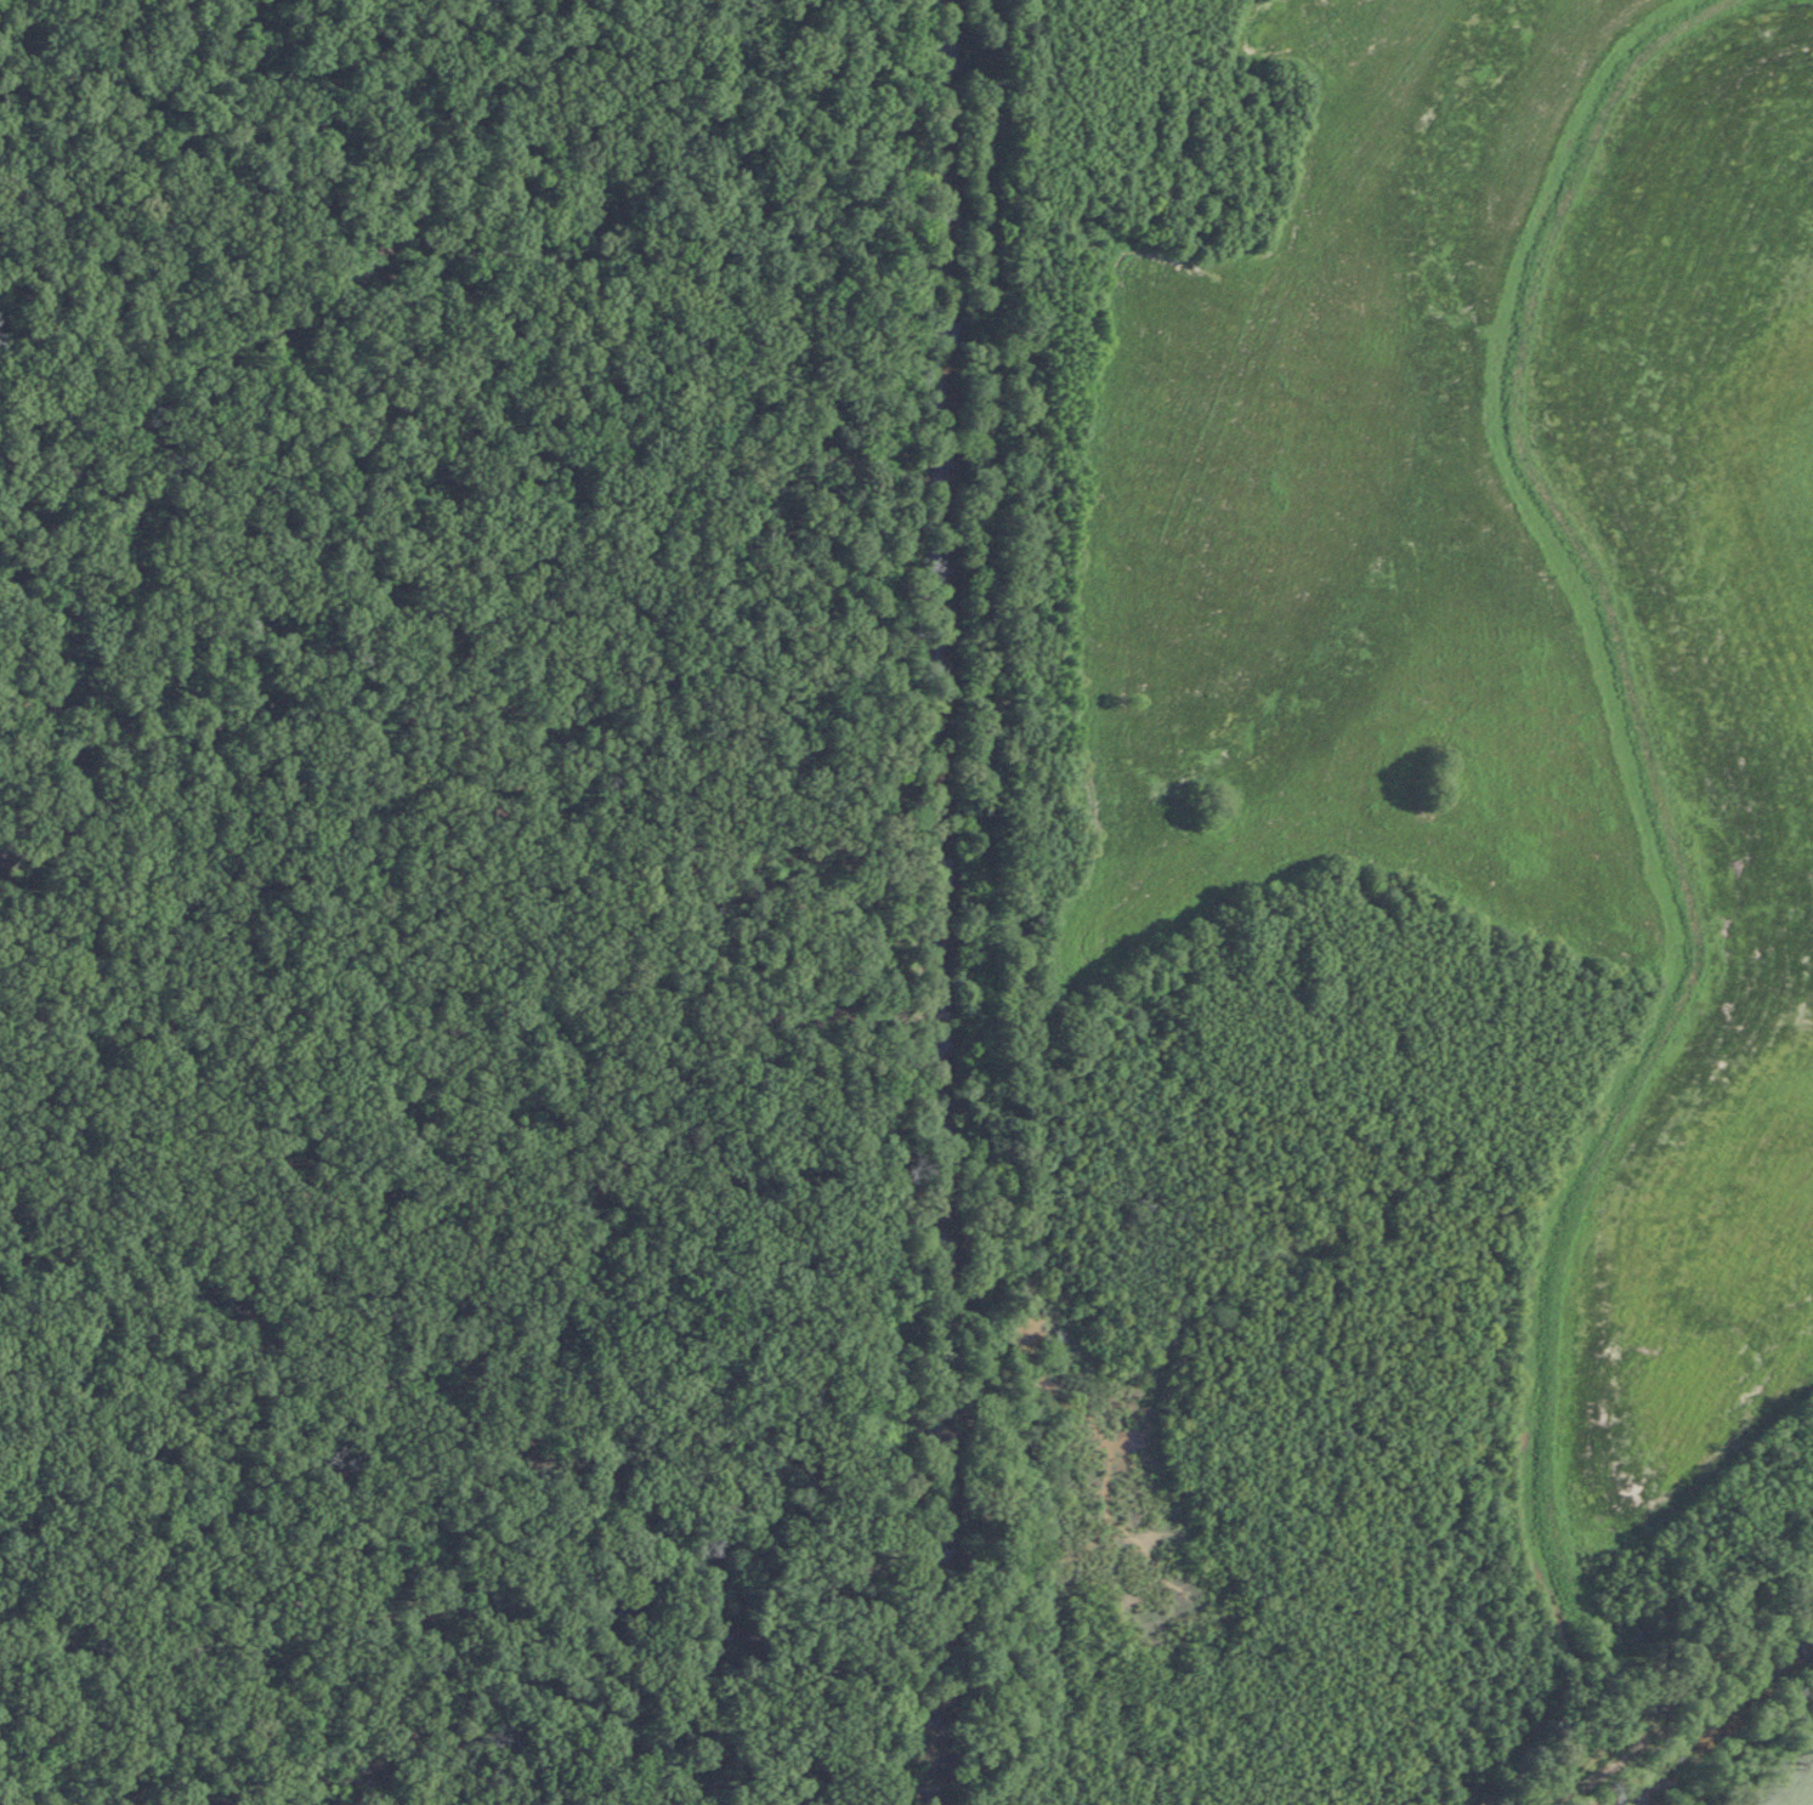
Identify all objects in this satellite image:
road: (1775, 1571)

